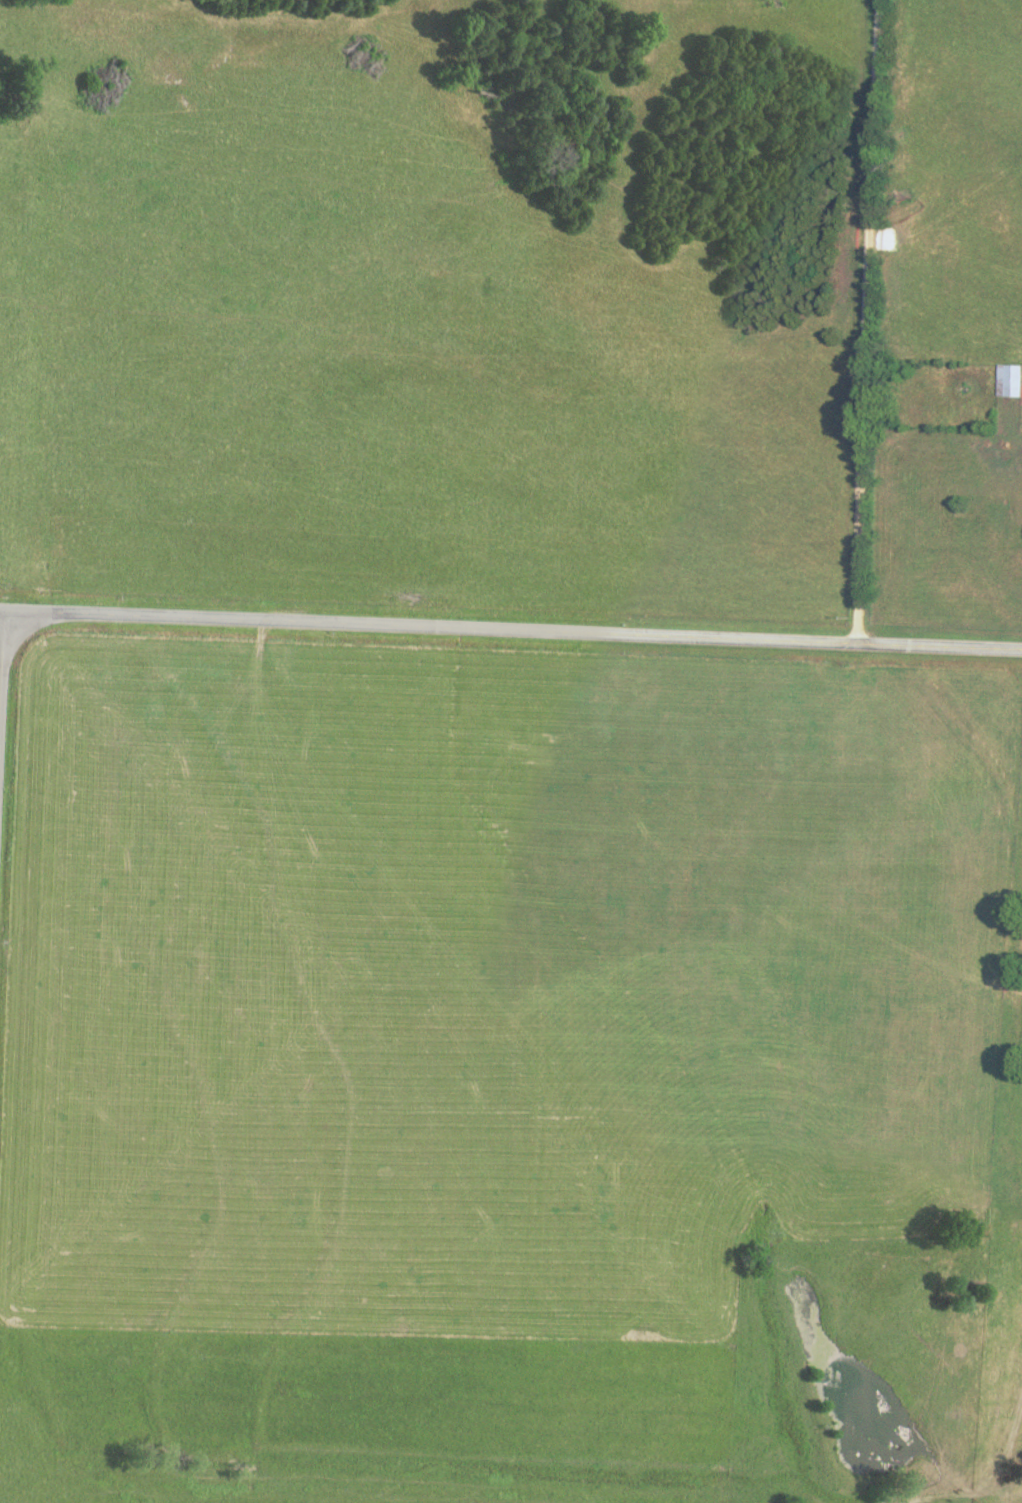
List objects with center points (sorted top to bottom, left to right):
road: (869, 321)
building: (1009, 380)
road: (513, 627)
road: (2, 654)

